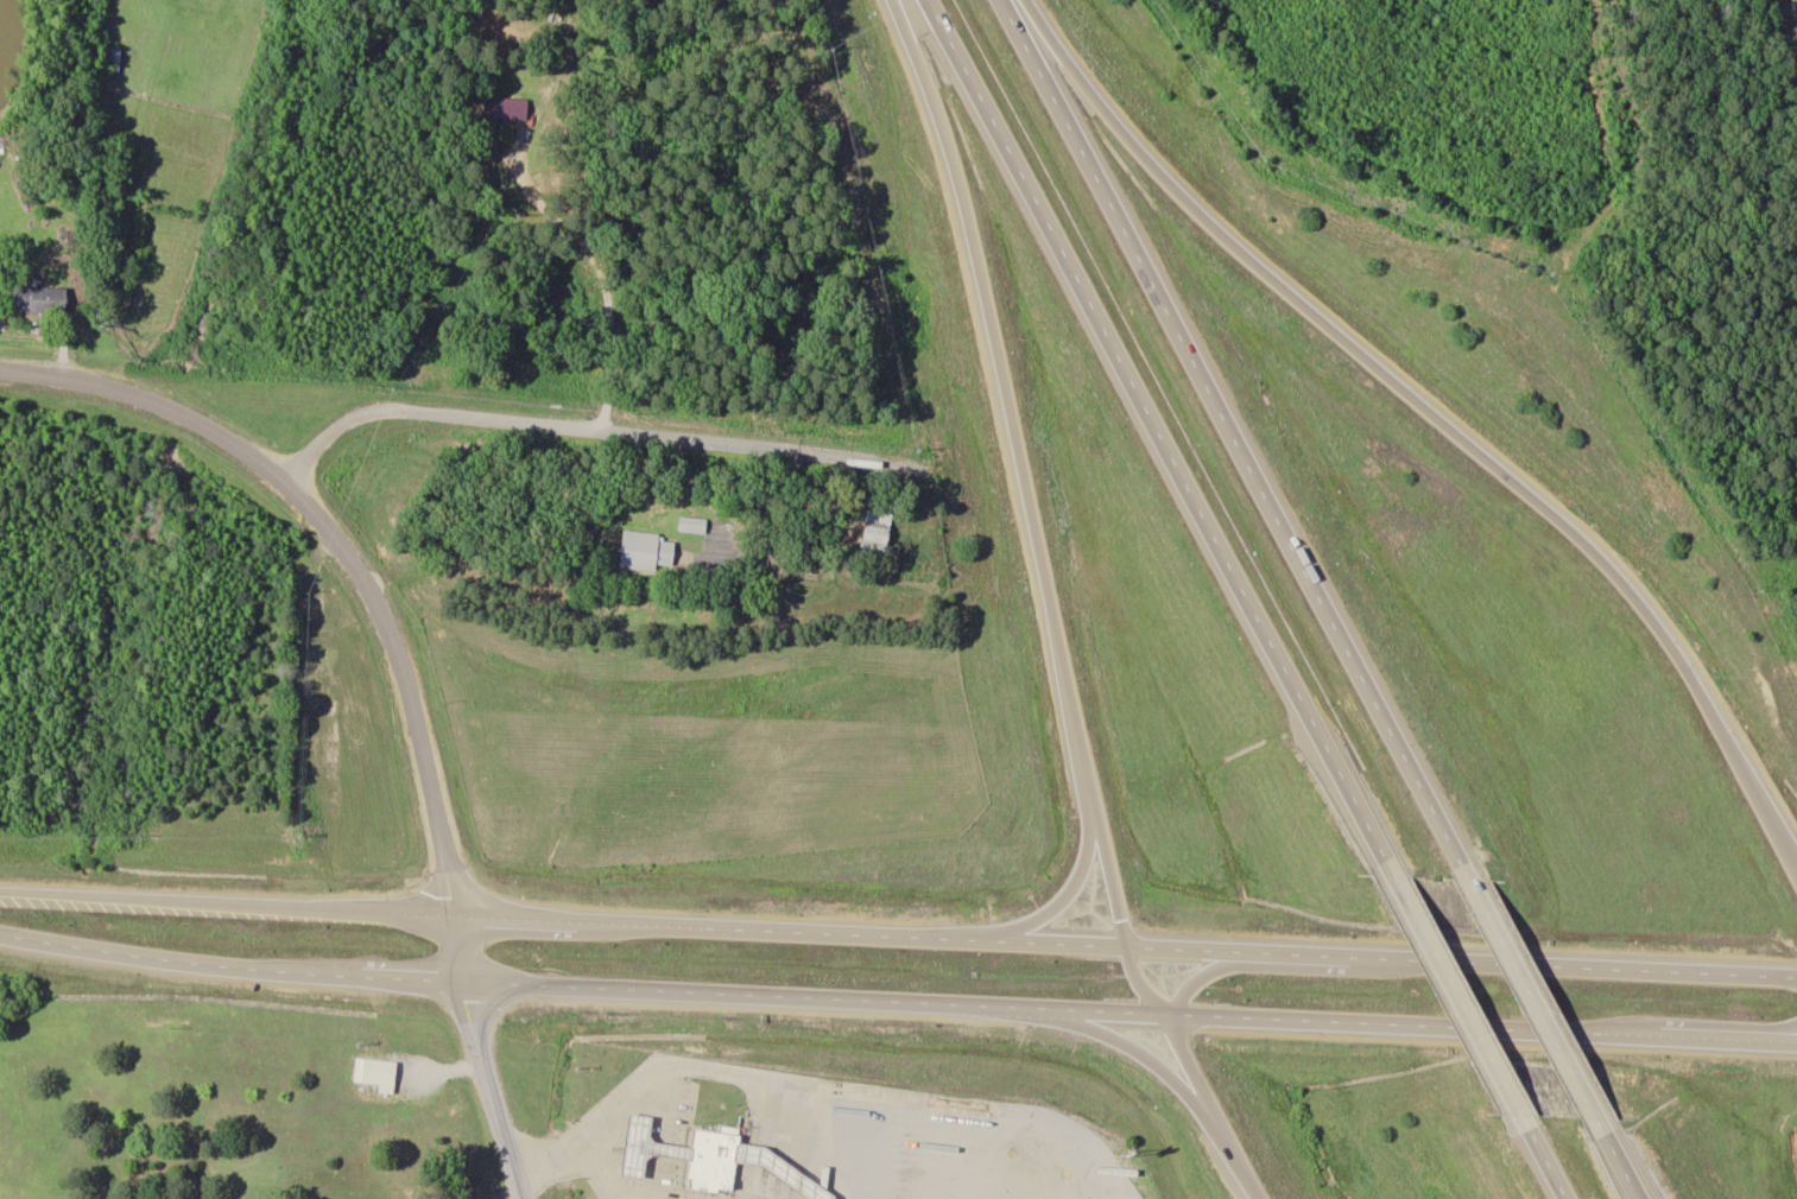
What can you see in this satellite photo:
building: (114, 59)
building: (505, 108)
building: (39, 299)
road: (148, 400)
road: (996, 400)
road: (1422, 415)
road: (597, 425)
road: (1221, 431)
road: (1156, 440)
building: (692, 525)
building: (875, 534)
building: (647, 552)
road: (399, 709)
road: (1795, 851)
road: (1097, 871)
road: (1046, 886)
road: (220, 895)
road: (508, 911)
road: (717, 922)
road: (1059, 937)
road: (1317, 949)
road: (172, 952)
road: (1586, 960)
road: (1203, 963)
road: (403, 970)
road: (1131, 976)
road: (646, 982)
road: (1525, 991)
road: (1455, 998)
road: (1242, 1009)
road: (1765, 1023)
road: (1692, 1032)
road: (1766, 1034)
road: (1137, 1049)
building: (359, 1067)
road: (495, 1085)
road: (854, 1089)
road: (1209, 1103)
building: (639, 1137)
road: (884, 1147)
building: (708, 1154)
road: (576, 1156)
road: (1012, 1156)
road: (1539, 1157)
road: (1618, 1161)
road: (510, 1194)

